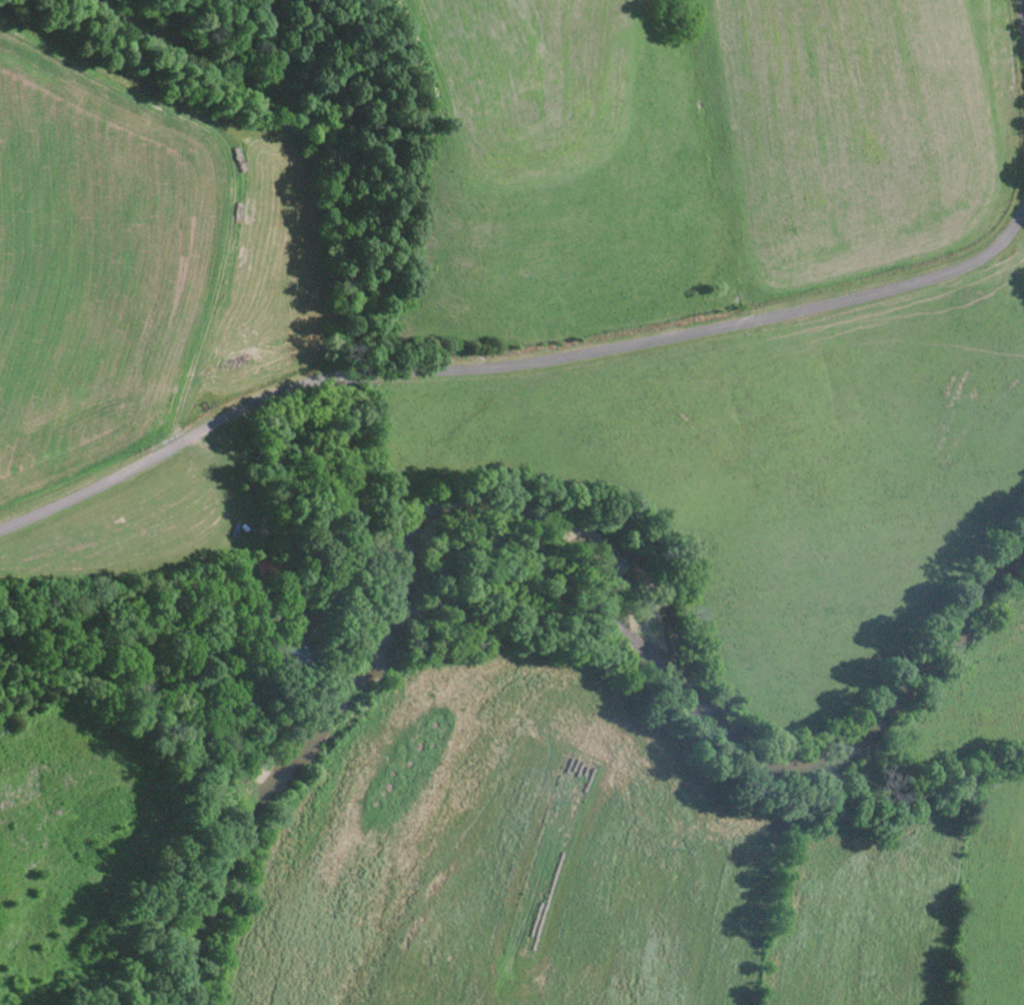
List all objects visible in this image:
road: (1021, 21)
road: (514, 364)
road: (246, 488)

